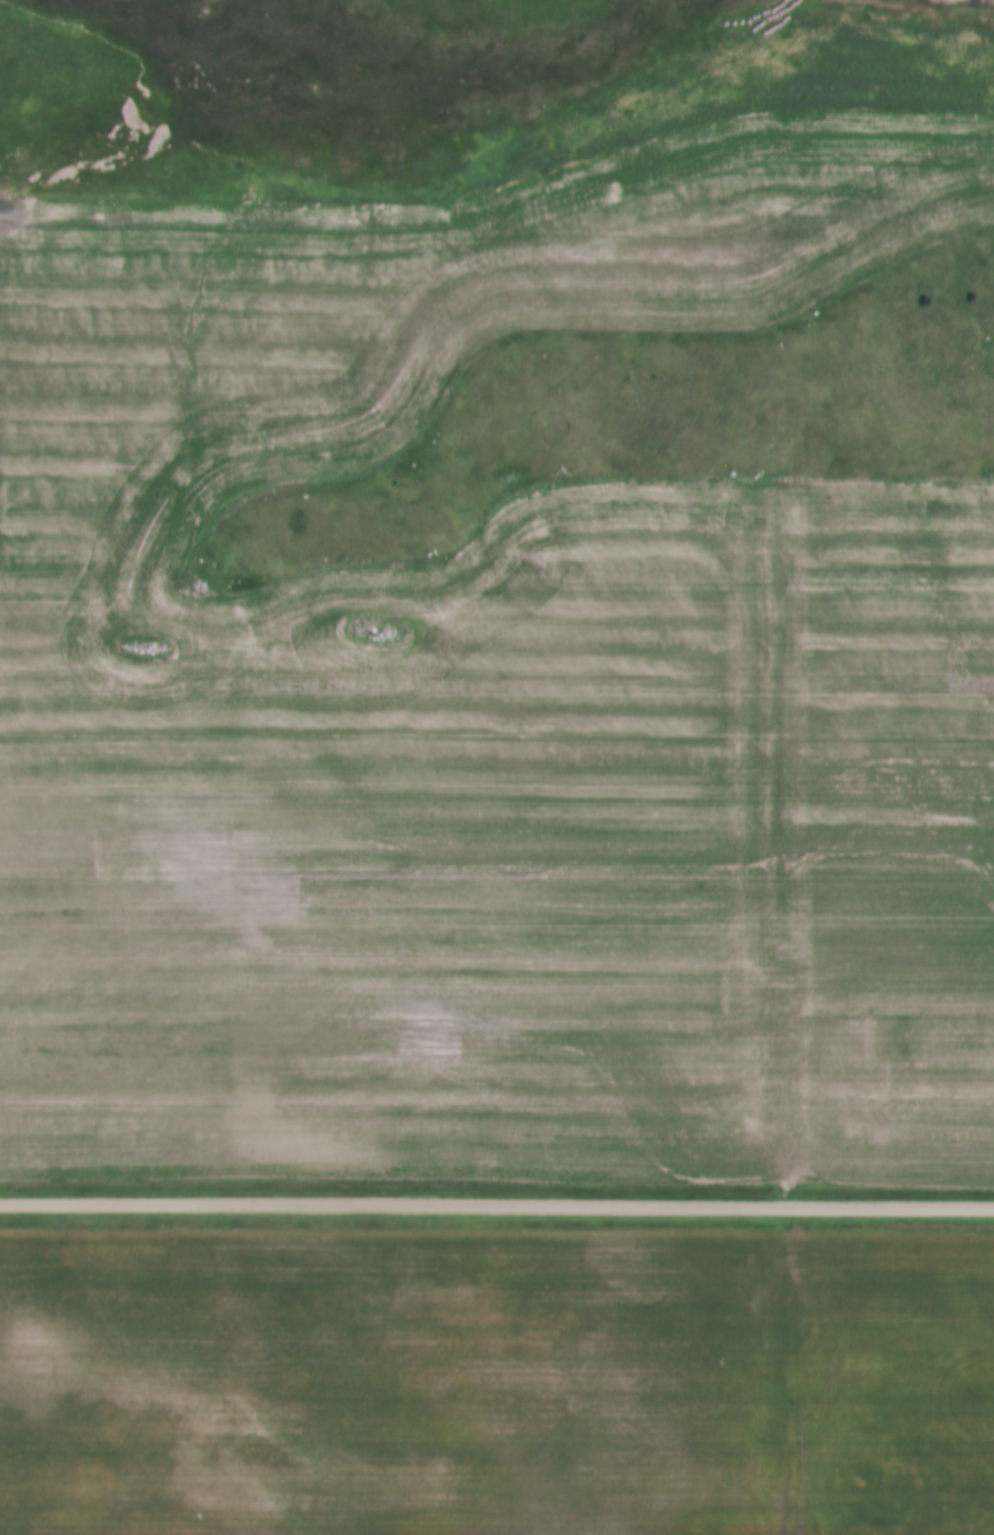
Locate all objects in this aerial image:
road: (497, 1206)

